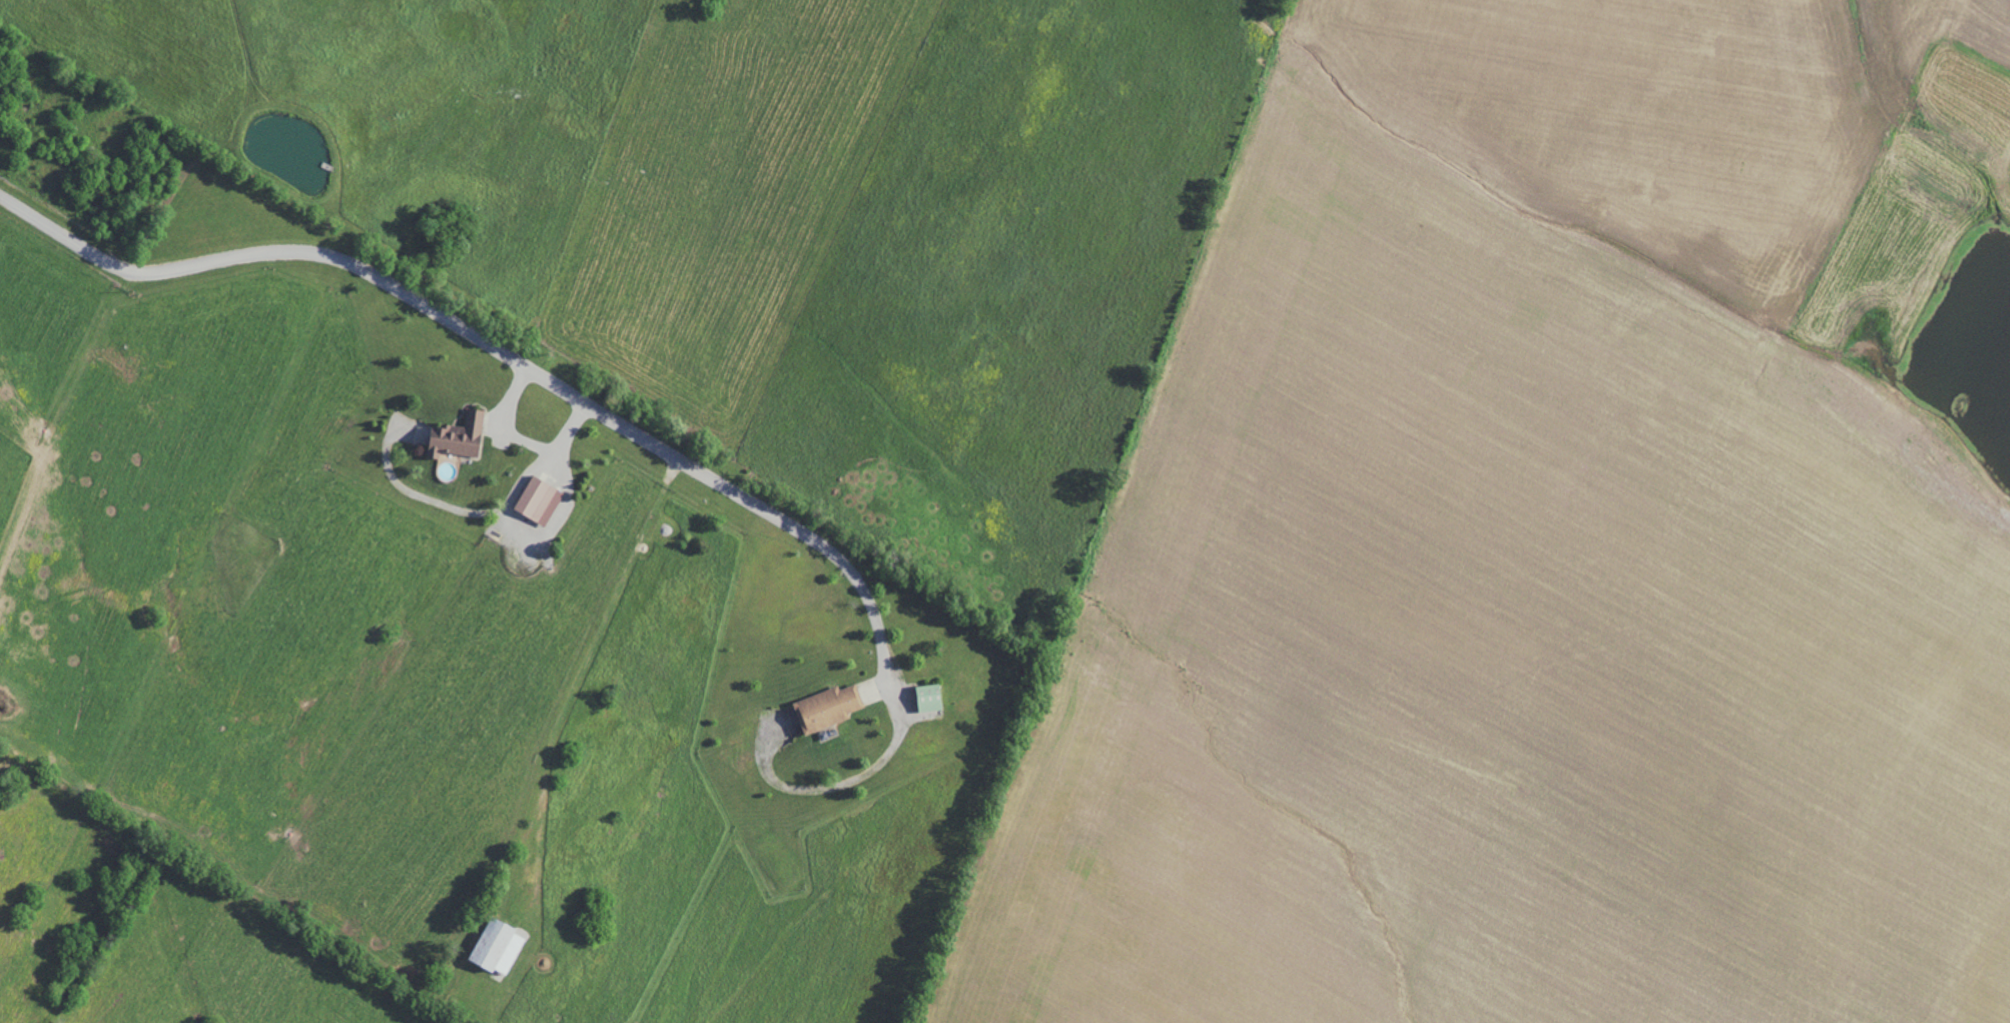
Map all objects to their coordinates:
road: (601, 412)
building: (456, 437)
building: (538, 501)
building: (928, 698)
building: (826, 708)
building: (490, 945)

